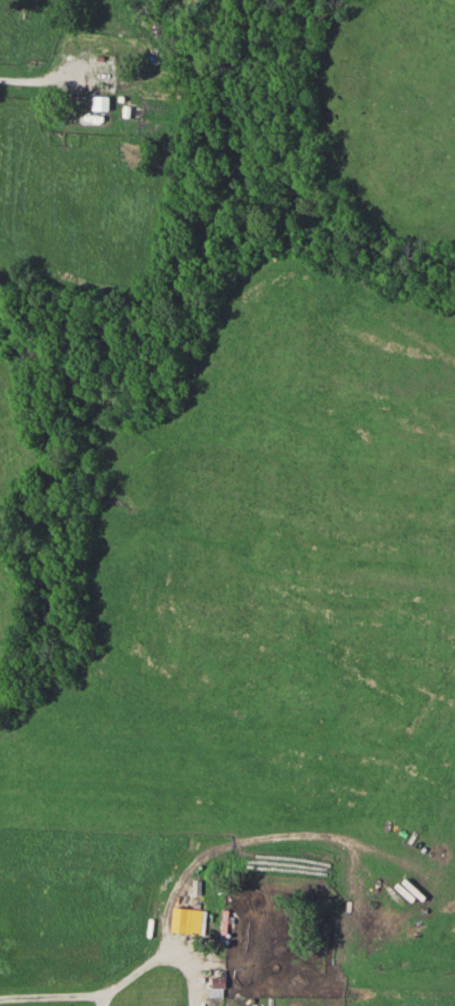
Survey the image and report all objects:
building: (190, 920)
building: (219, 983)
building: (218, 1003)

